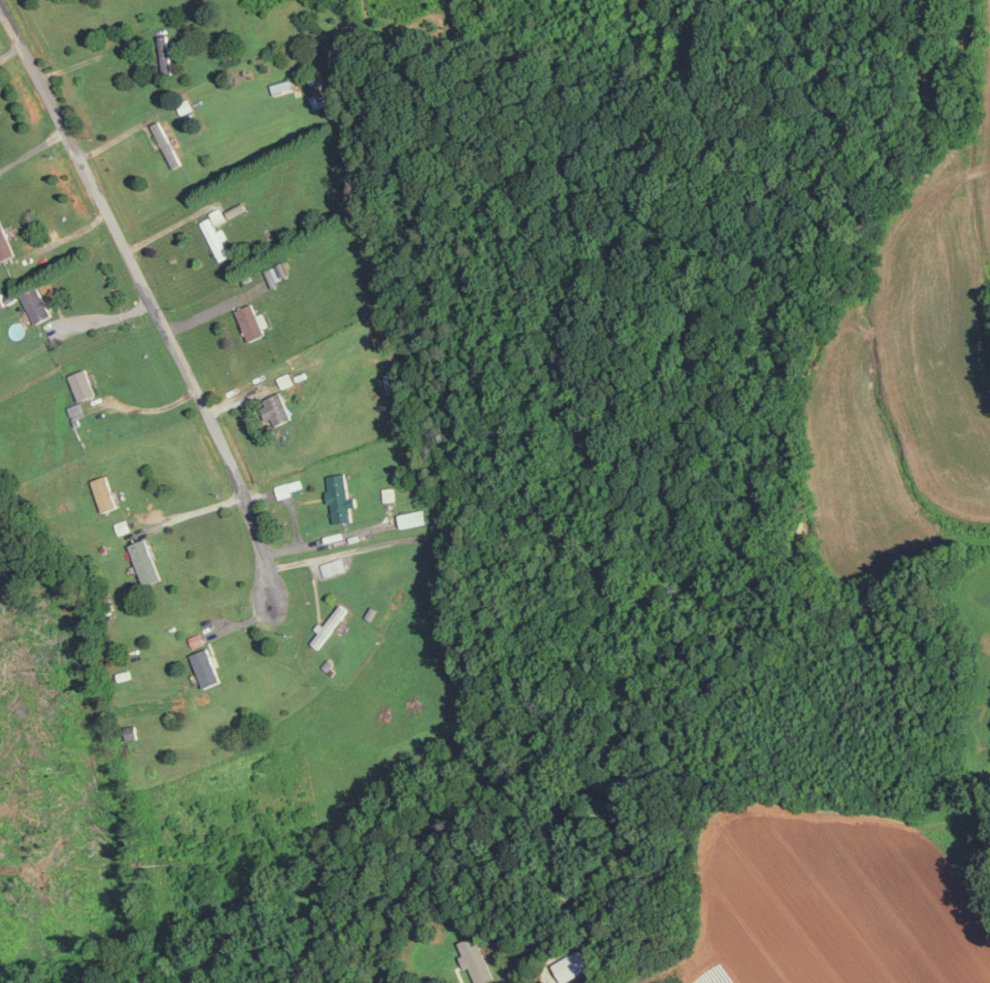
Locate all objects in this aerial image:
building: (165, 54)
building: (283, 85)
building: (319, 95)
building: (167, 143)
building: (218, 215)
building: (217, 238)
building: (5, 242)
building: (278, 272)
road: (148, 294)
building: (38, 303)
building: (254, 320)
building: (83, 383)
building: (277, 407)
building: (106, 492)
building: (389, 493)
building: (342, 497)
road: (193, 511)
building: (415, 517)
building: (147, 560)
building: (334, 566)
building: (331, 624)
building: (207, 666)
road: (460, 692)
building: (476, 959)
building: (571, 964)

